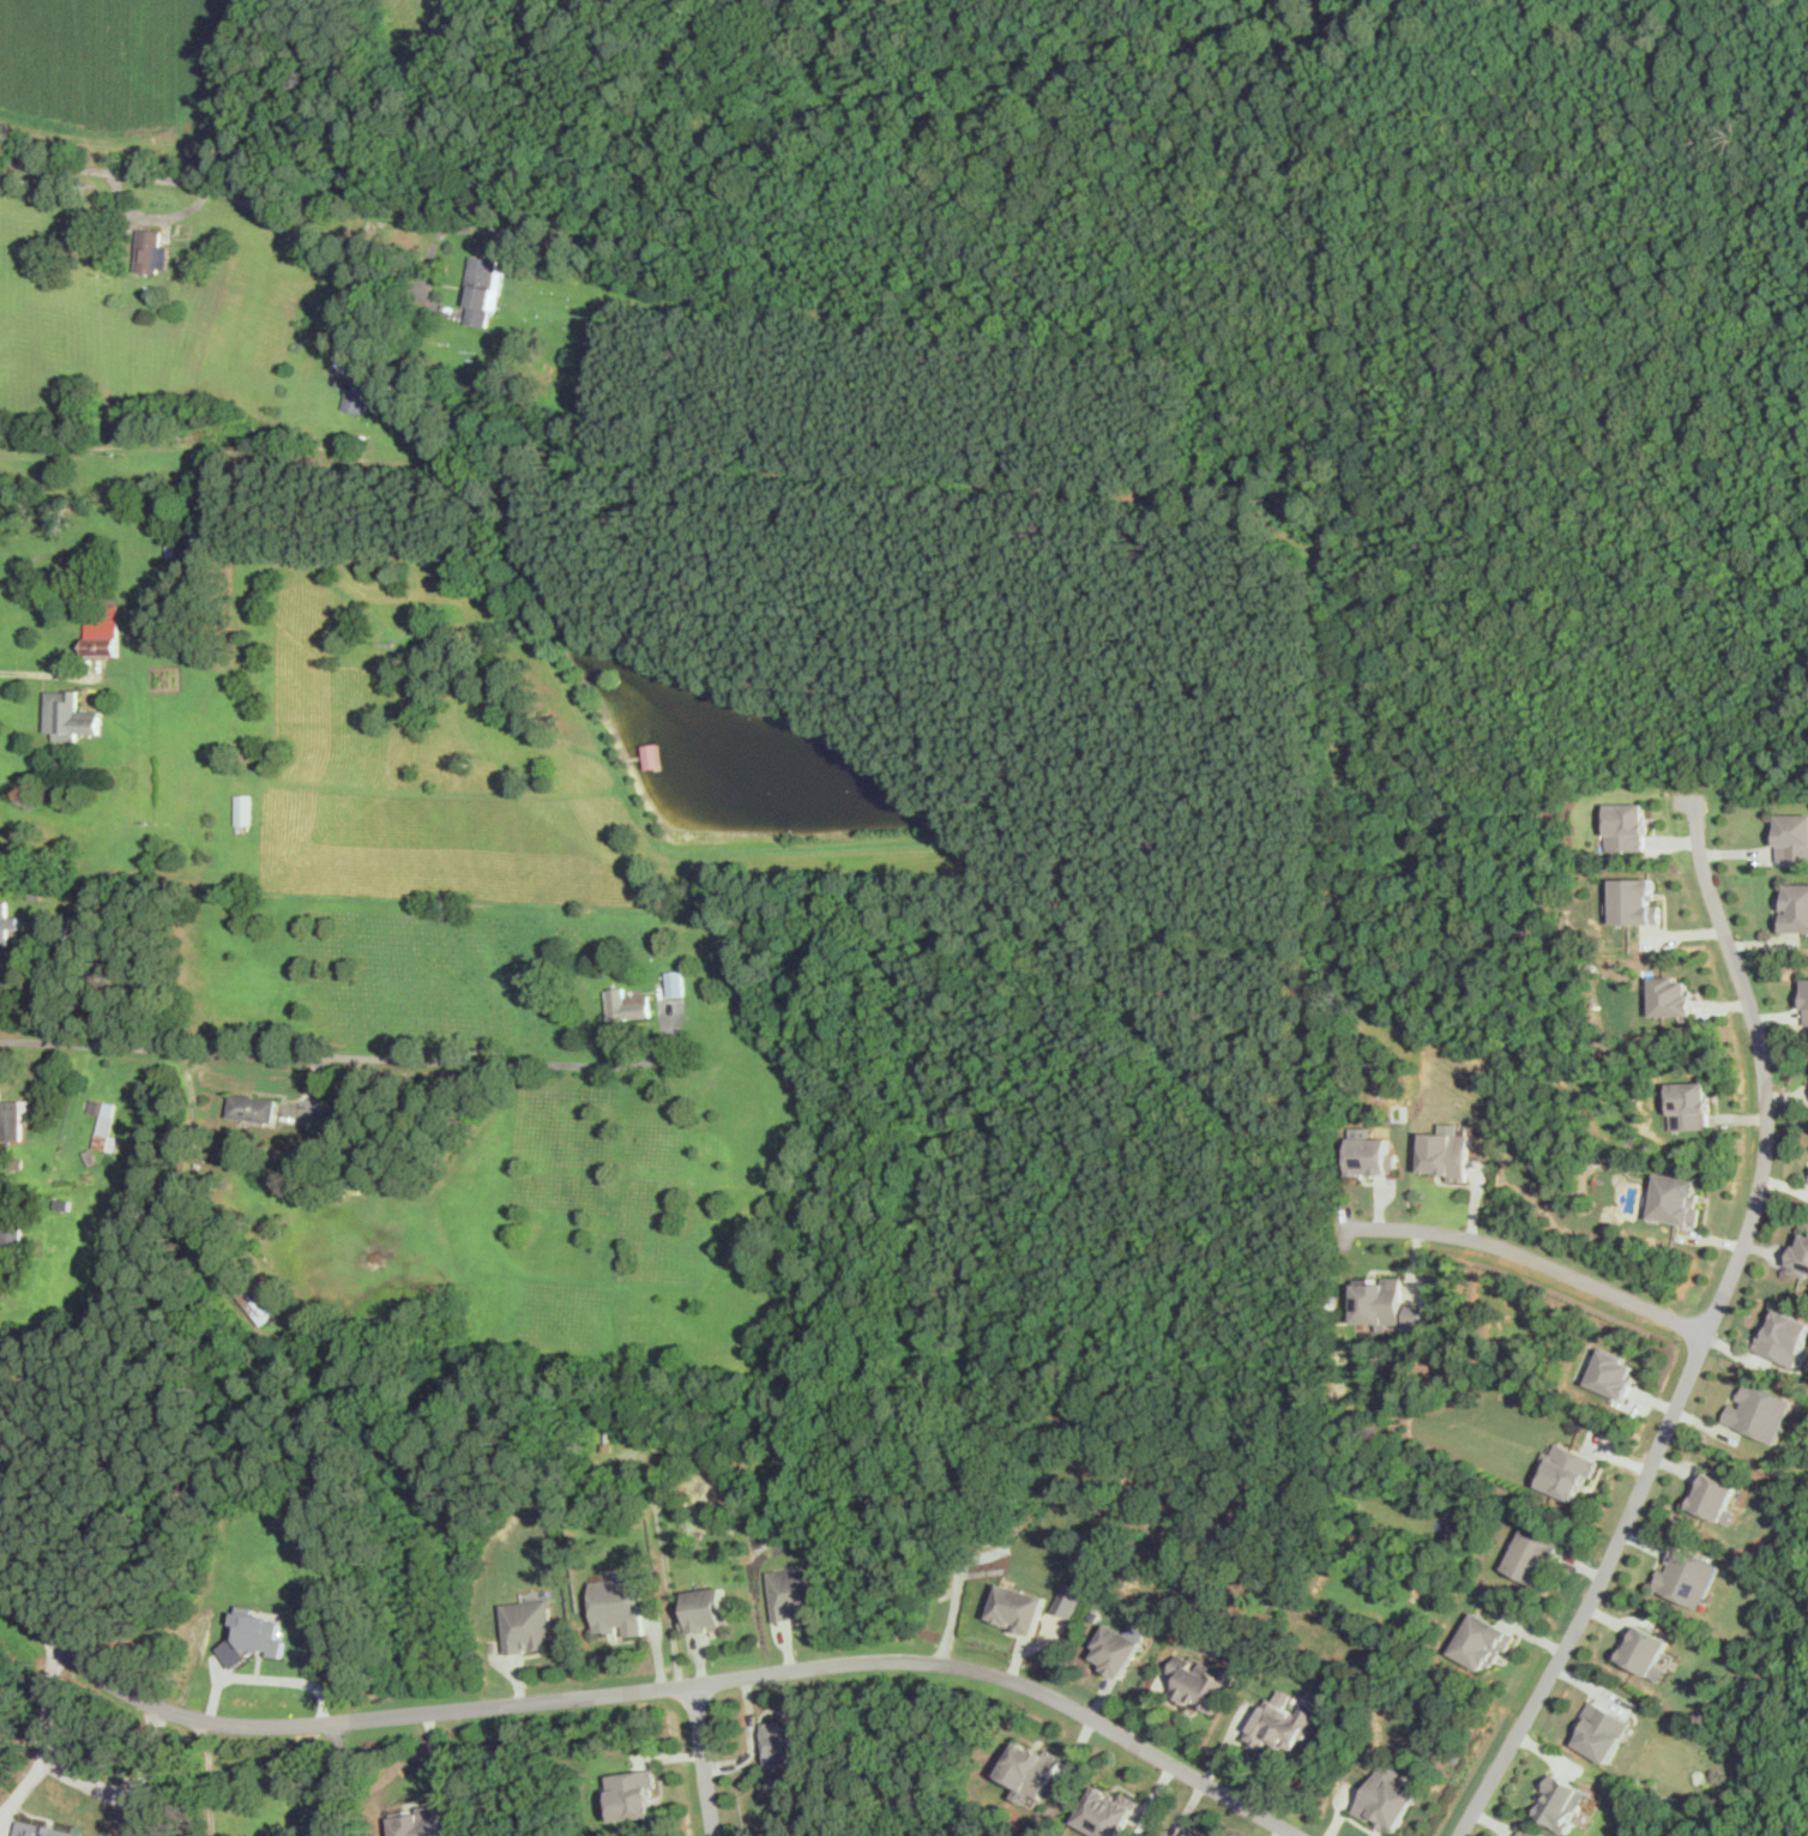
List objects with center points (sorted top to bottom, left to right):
crop: (1627, 8)
road: (198, 182)
building: (151, 252)
building: (483, 289)
building: (561, 377)
building: (357, 393)
building: (456, 445)
road: (89, 452)
building: (194, 542)
building: (84, 567)
building: (103, 634)
road: (47, 674)
building: (71, 717)
building: (655, 757)
building: (243, 811)
building: (1627, 825)
building: (1791, 835)
building: (59, 838)
building: (1634, 901)
building: (1792, 908)
building: (6, 922)
building: (675, 981)
building: (1670, 997)
building: (1806, 999)
building: (626, 1003)
road: (318, 1054)
building: (1688, 1103)
building: (253, 1106)
building: (12, 1116)
building: (103, 1122)
building: (1446, 1152)
building: (1369, 1154)
building: (1676, 1199)
building: (11, 1235)
road: (1530, 1256)
building: (1800, 1257)
building: (1378, 1300)
building: (258, 1301)
building: (1416, 1314)
road: (1704, 1336)
building: (1784, 1336)
building: (1613, 1373)
building: (1760, 1410)
building: (1567, 1470)
building: (1714, 1495)
road: (665, 1555)
building: (1533, 1557)
building: (1687, 1576)
road: (959, 1584)
building: (794, 1591)
building: (1068, 1600)
building: (617, 1605)
building: (1018, 1607)
building: (705, 1609)
building: (526, 1625)
building: (251, 1636)
building: (1483, 1642)
building: (1116, 1649)
building: (1646, 1651)
road: (265, 1678)
building: (1200, 1683)
road: (644, 1687)
building: (1280, 1720)
building: (1602, 1730)
road: (754, 1739)
road: (47, 1744)
building: (787, 1745)
road: (704, 1758)
building: (1031, 1770)
road: (213, 1776)
road: (349, 1776)
building: (632, 1793)
road: (132, 1795)
building: (1386, 1798)
building: (1565, 1801)
building: (1108, 1812)
building: (412, 1823)
building: (42, 1829)
building: (1525, 1832)
building: (1189, 1834)

